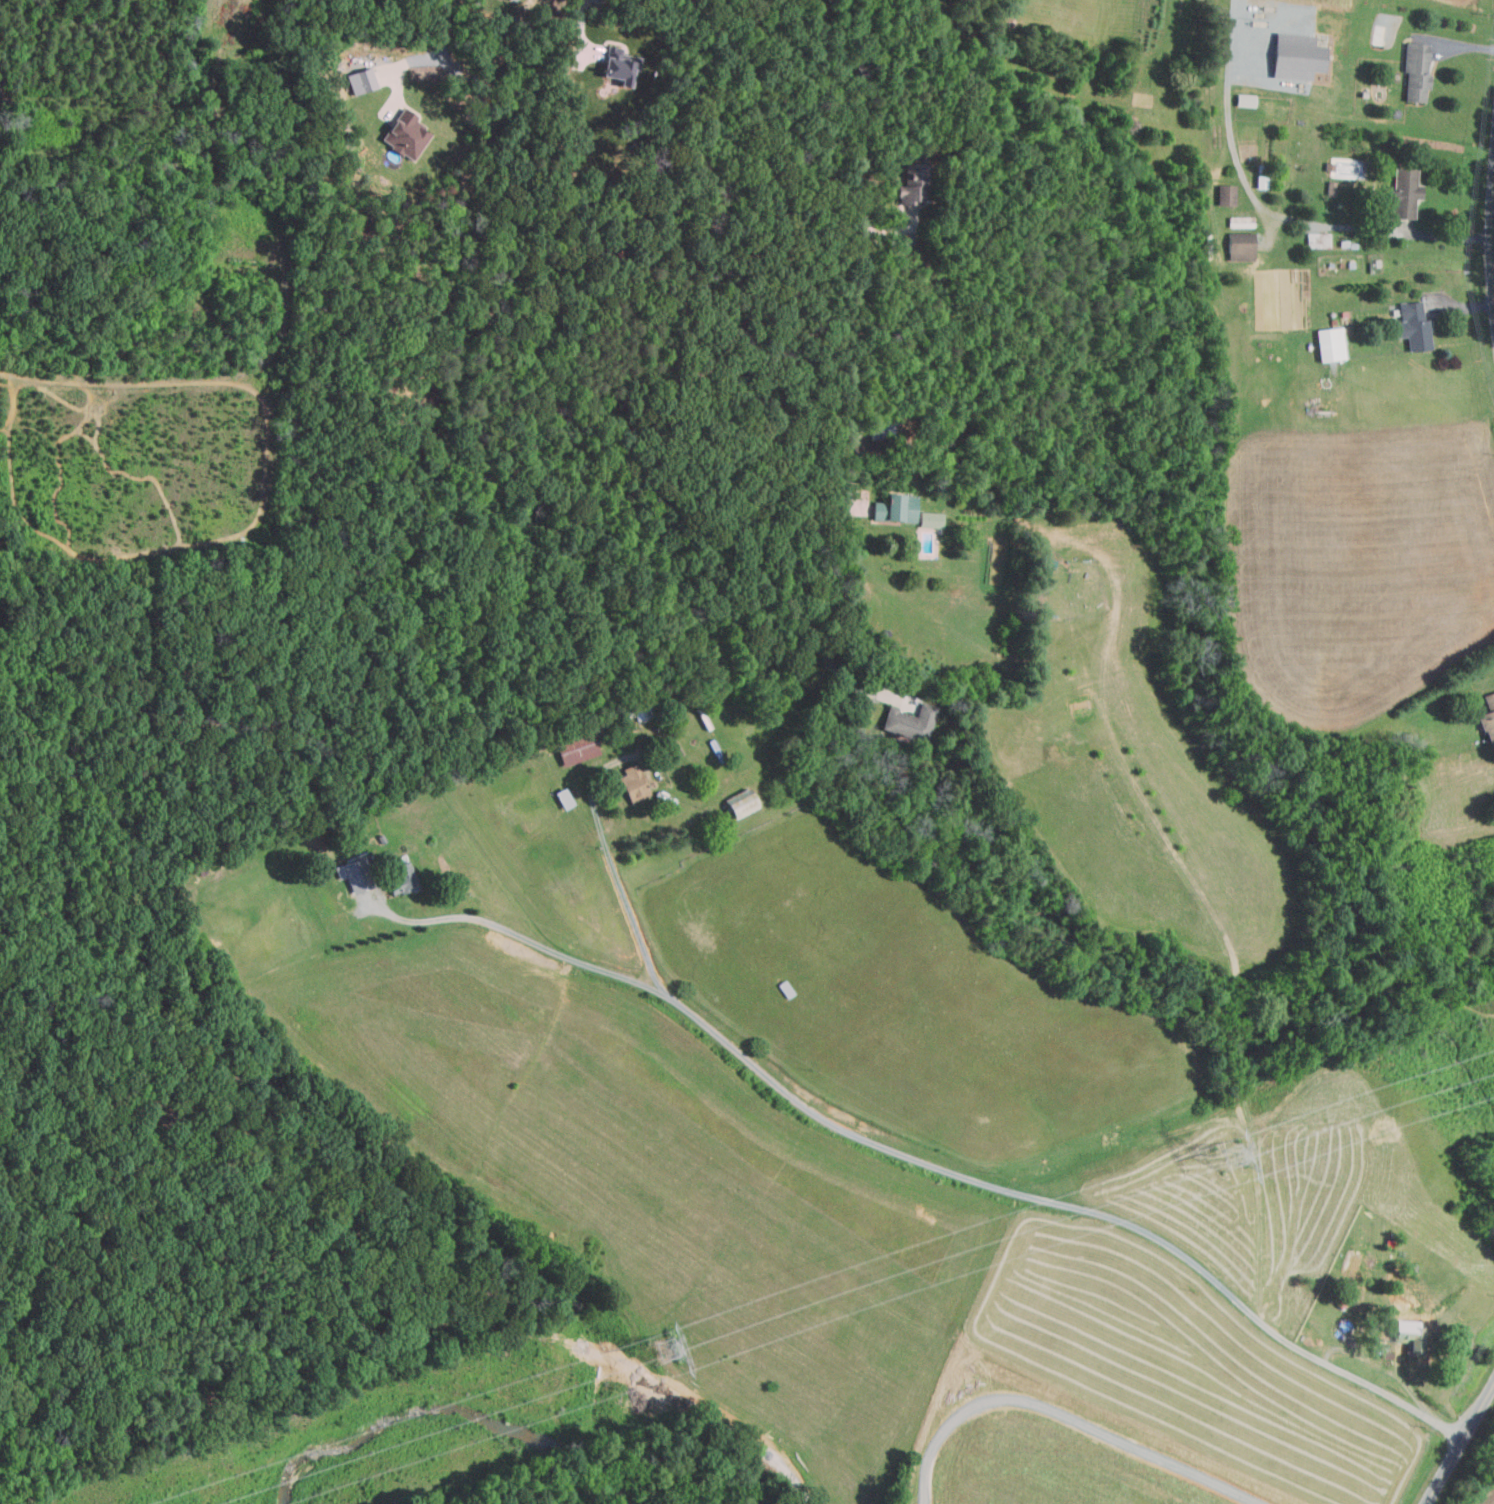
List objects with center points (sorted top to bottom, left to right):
building: (511, 0)
road: (583, 21)
road: (445, 26)
road: (1453, 41)
building: (1295, 56)
building: (616, 64)
road: (400, 70)
building: (1415, 71)
building: (359, 80)
building: (402, 134)
building: (1260, 181)
building: (913, 183)
building: (1330, 188)
building: (1403, 193)
building: (1224, 194)
road: (1270, 211)
building: (1239, 221)
building: (1316, 240)
building: (1239, 246)
road: (1490, 247)
road: (855, 252)
road: (283, 317)
building: (1412, 326)
building: (1329, 344)
building: (895, 508)
building: (929, 520)
road: (800, 582)
building: (641, 713)
building: (1488, 718)
building: (908, 722)
building: (576, 747)
building: (631, 784)
building: (738, 806)
road: (606, 858)
building: (351, 876)
building: (400, 879)
power tower: (1236, 1155)
road: (920, 1160)
building: (1407, 1338)
power tower: (668, 1349)
road: (1459, 1444)

